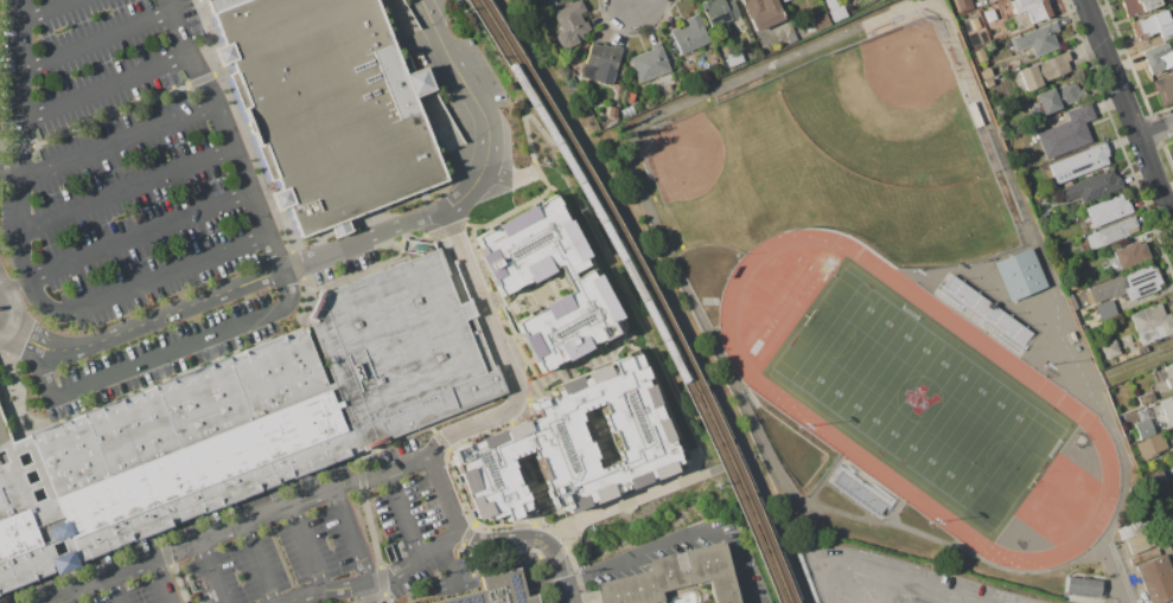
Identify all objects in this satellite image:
building: (199, 0)
building: (784, 0)
building: (881, 0)
building: (871, 1)
building: (219, 4)
building: (963, 5)
building: (1137, 6)
building: (1172, 7)
building: (1033, 8)
road: (25, 11)
road: (52, 11)
building: (835, 11)
building: (719, 12)
building: (763, 12)
building: (990, 15)
building: (570, 21)
building: (820, 23)
building: (975, 23)
building: (1153, 26)
building: (689, 36)
building: (791, 38)
building: (1037, 39)
road: (98, 40)
road: (25, 46)
building: (734, 58)
building: (1159, 58)
building: (649, 63)
building: (601, 64)
building: (1044, 70)
building: (986, 73)
building: (709, 76)
building: (988, 82)
road: (470, 83)
building: (1165, 85)
road: (106, 86)
road: (24, 95)
building: (1058, 97)
building: (330, 107)
road: (1128, 109)
park: (890, 110)
road: (111, 117)
road: (523, 118)
road: (241, 127)
road: (1156, 130)
building: (1066, 133)
road: (228, 134)
road: (448, 137)
road: (120, 143)
parking lot: (111, 160)
building: (1078, 162)
road: (11, 171)
road: (23, 177)
road: (510, 179)
building: (1091, 186)
park: (810, 190)
road: (128, 191)
building: (1107, 211)
road: (388, 231)
building: (1109, 233)
road: (421, 238)
road: (127, 240)
railway: (626, 244)
railway: (617, 246)
road: (642, 249)
flagpole: (737, 255)
building: (1131, 255)
road: (24, 256)
road: (298, 263)
road: (971, 267)
parking lot: (349, 268)
park: (635, 272)
building: (1022, 276)
road: (142, 283)
building: (515, 284)
building: (1071, 284)
building: (1122, 288)
road: (289, 295)
track: (886, 296)
road: (308, 302)
road: (1011, 307)
road: (11, 310)
building: (988, 312)
building: (1150, 322)
road: (144, 326)
road: (715, 331)
building: (407, 347)
building: (1110, 349)
road: (1045, 351)
road: (508, 353)
parking lot: (161, 358)
road: (145, 365)
road: (1130, 366)
building: (1164, 373)
road: (14, 376)
road: (166, 386)
building: (1146, 398)
park: (922, 399)
track: (1066, 404)
building: (1167, 409)
building: (1143, 428)
building: (5, 431)
road: (434, 432)
building: (1154, 443)
building: (192, 444)
building: (575, 449)
road: (11, 454)
road: (361, 458)
road: (382, 458)
road: (30, 473)
road: (823, 477)
building: (1156, 485)
building: (861, 492)
road: (642, 493)
road: (244, 494)
road: (442, 494)
road: (848, 499)
road: (895, 509)
road: (404, 515)
road: (237, 528)
road: (518, 528)
building: (1131, 530)
building: (18, 534)
road: (352, 537)
road: (681, 537)
parking lot: (272, 540)
road: (487, 540)
building: (1137, 544)
road: (547, 546)
road: (310, 549)
railway: (772, 551)
railway: (763, 553)
road: (785, 557)
road: (261, 564)
road: (173, 565)
road: (446, 566)
track: (899, 566)
road: (213, 572)
road: (1114, 573)
building: (674, 577)
building: (1156, 578)
road: (162, 582)
park: (858, 582)
road: (382, 583)
road: (567, 585)
building: (1083, 585)
track: (879, 586)
road: (116, 590)
building: (498, 590)
road: (370, 594)
park: (842, 596)
park: (868, 596)
road: (70, 598)
park: (906, 598)
road: (378, 599)
park: (951, 599)

